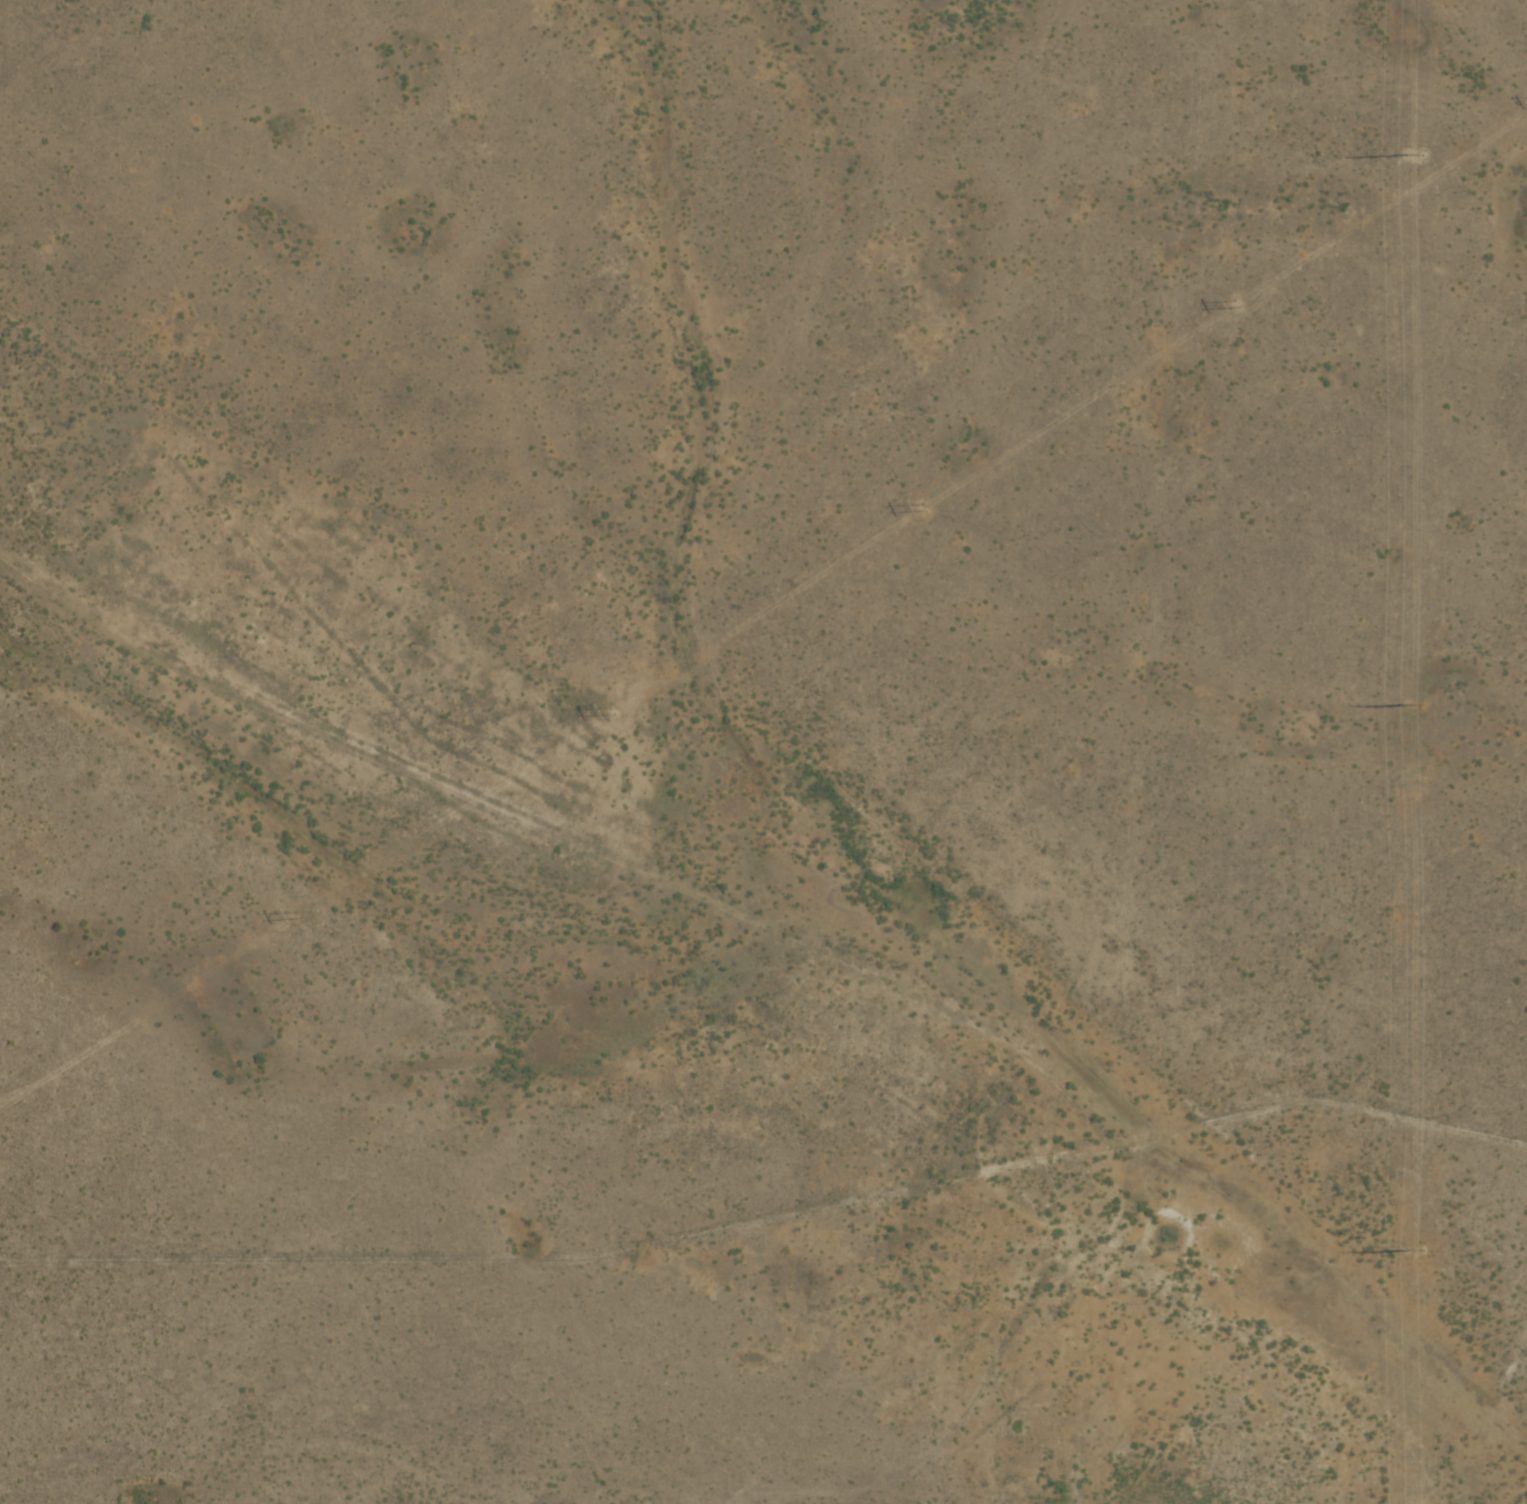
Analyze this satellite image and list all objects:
power tower: (1416, 156)
power tower: (1237, 305)
power tower: (924, 508)
power tower: (1414, 705)
power tower: (612, 711)
power tower: (297, 915)
power tower: (1412, 1249)

